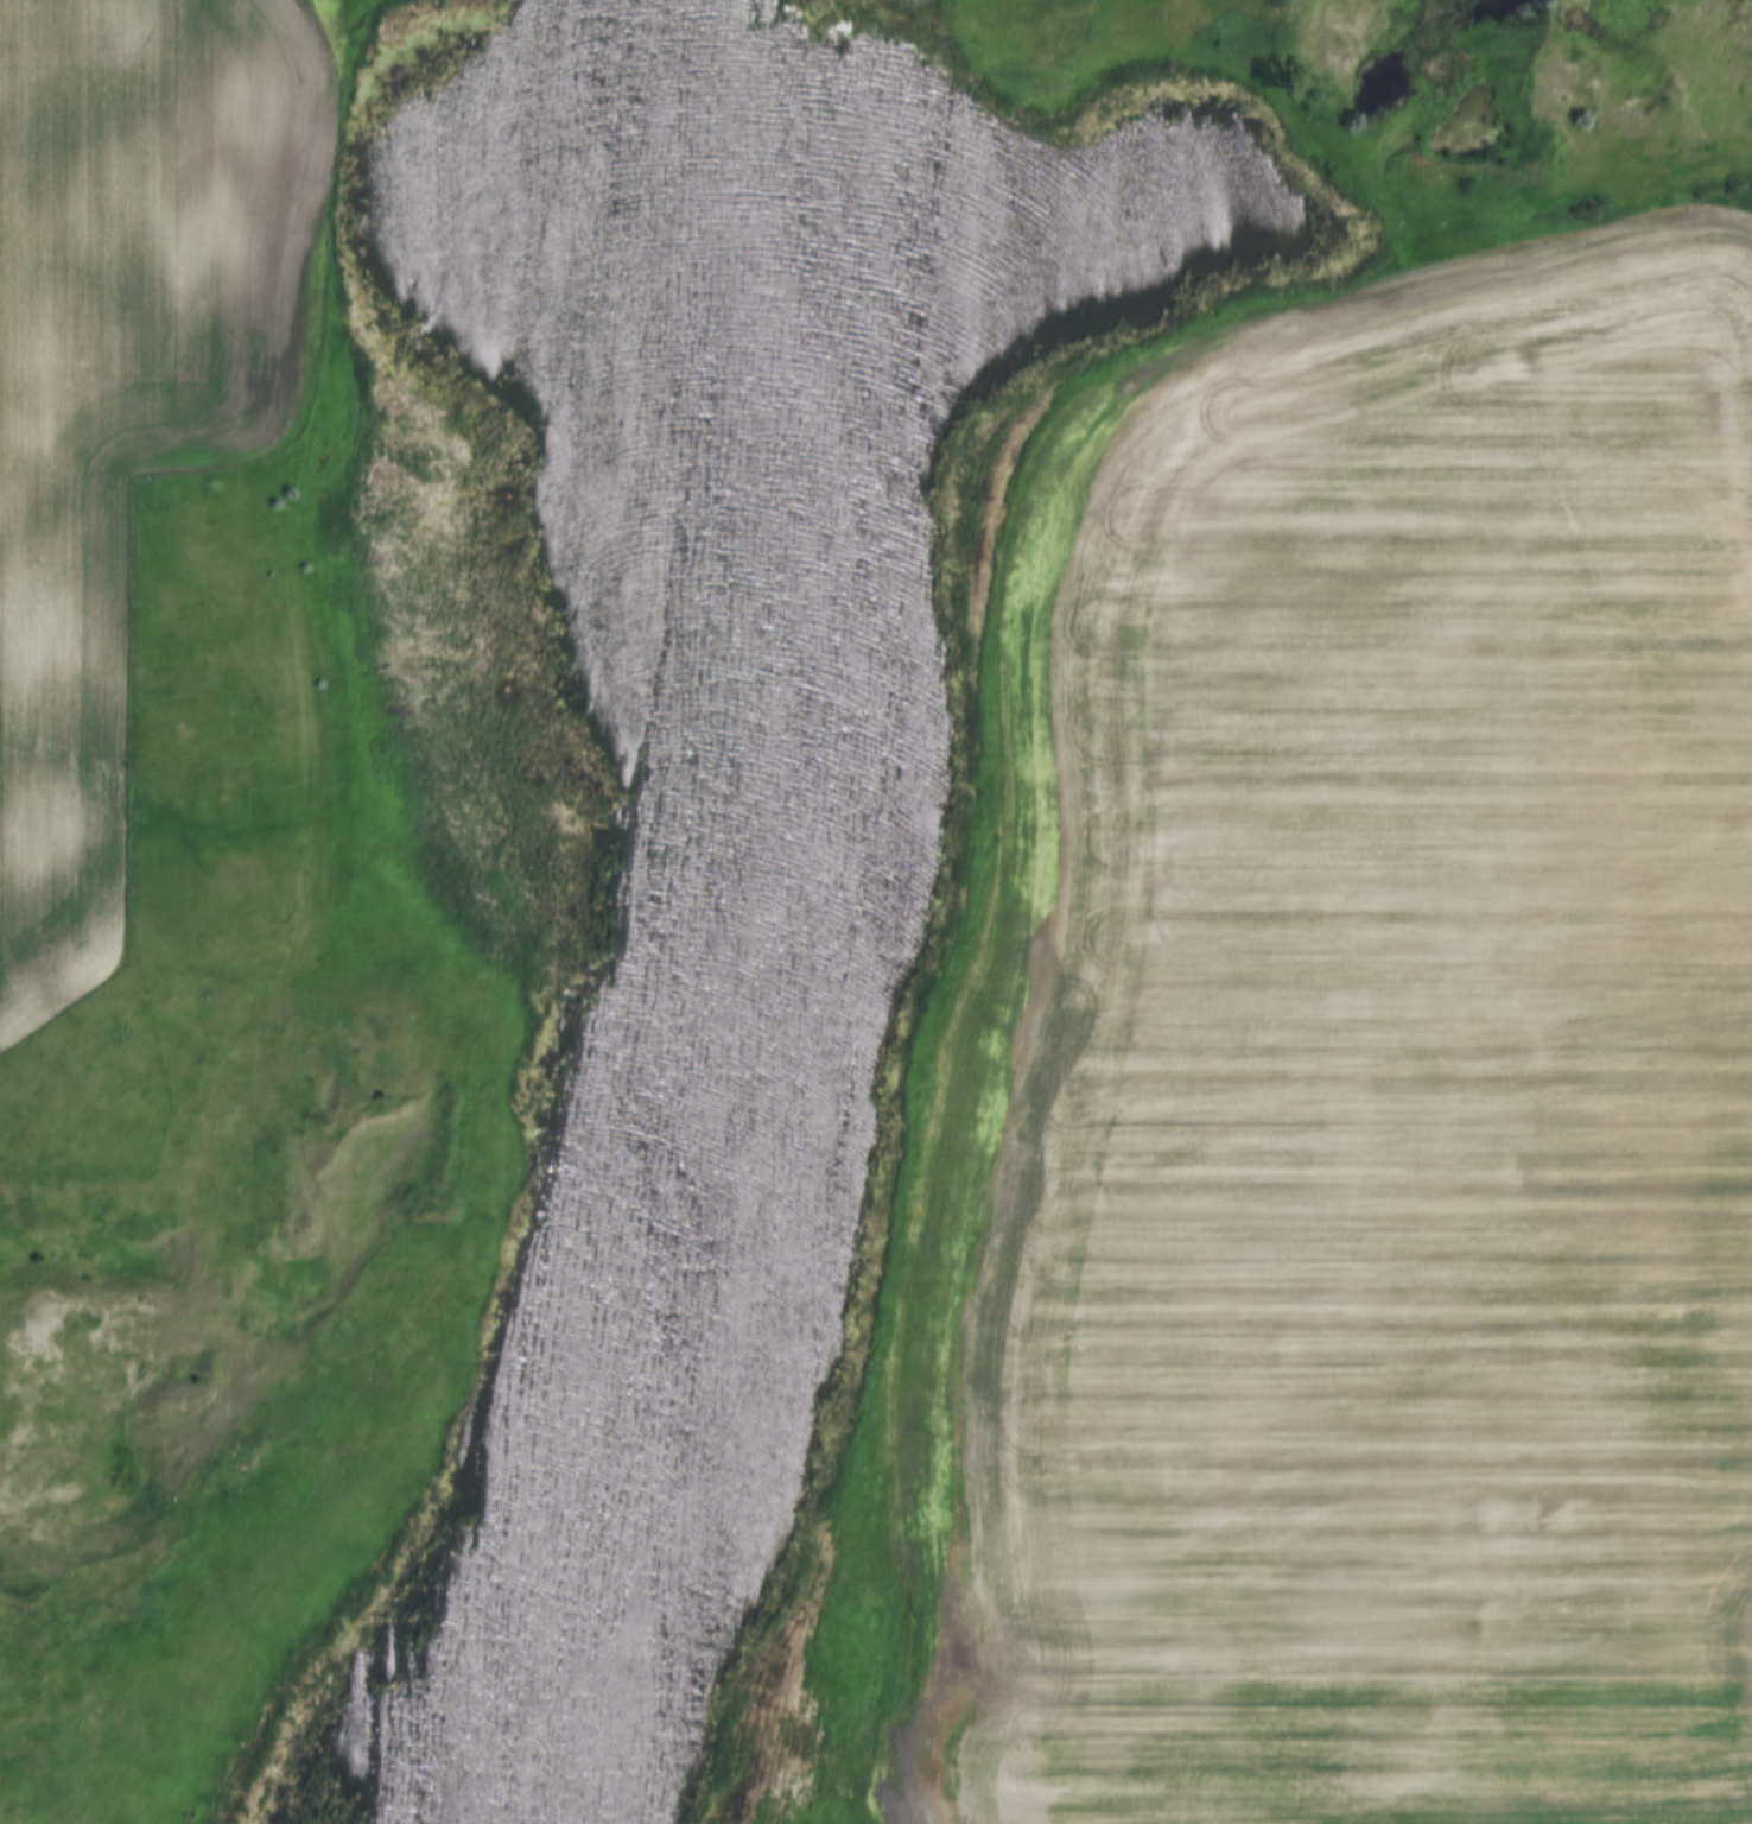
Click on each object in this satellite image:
road: (1655, 50)
road: (1713, 161)

